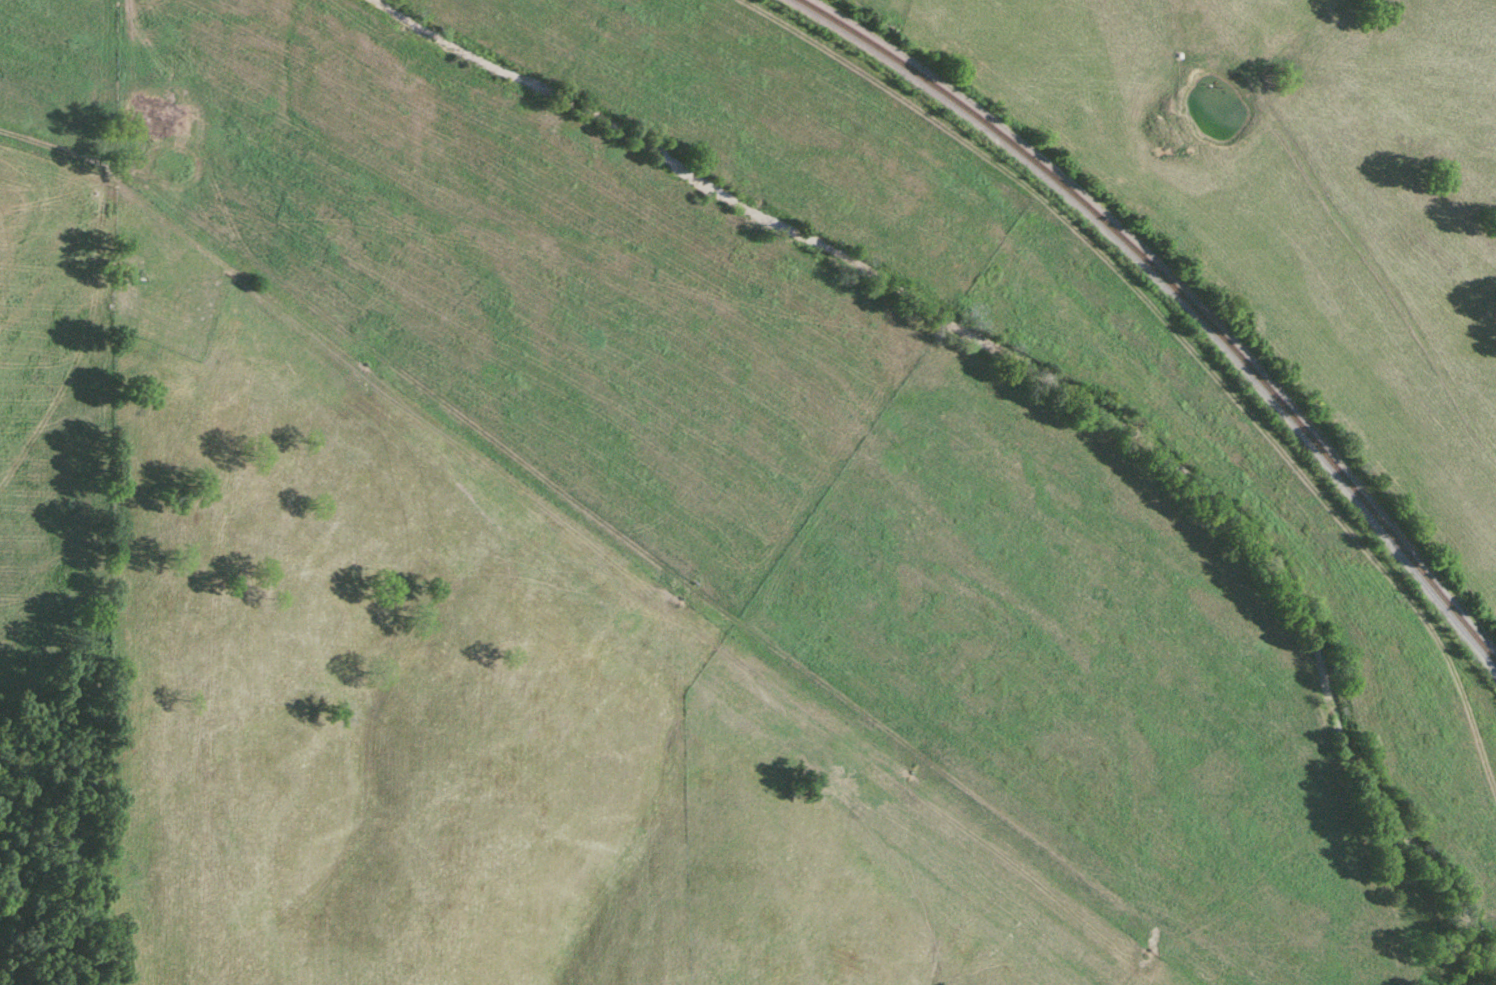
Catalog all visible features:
railway: (1177, 298)

